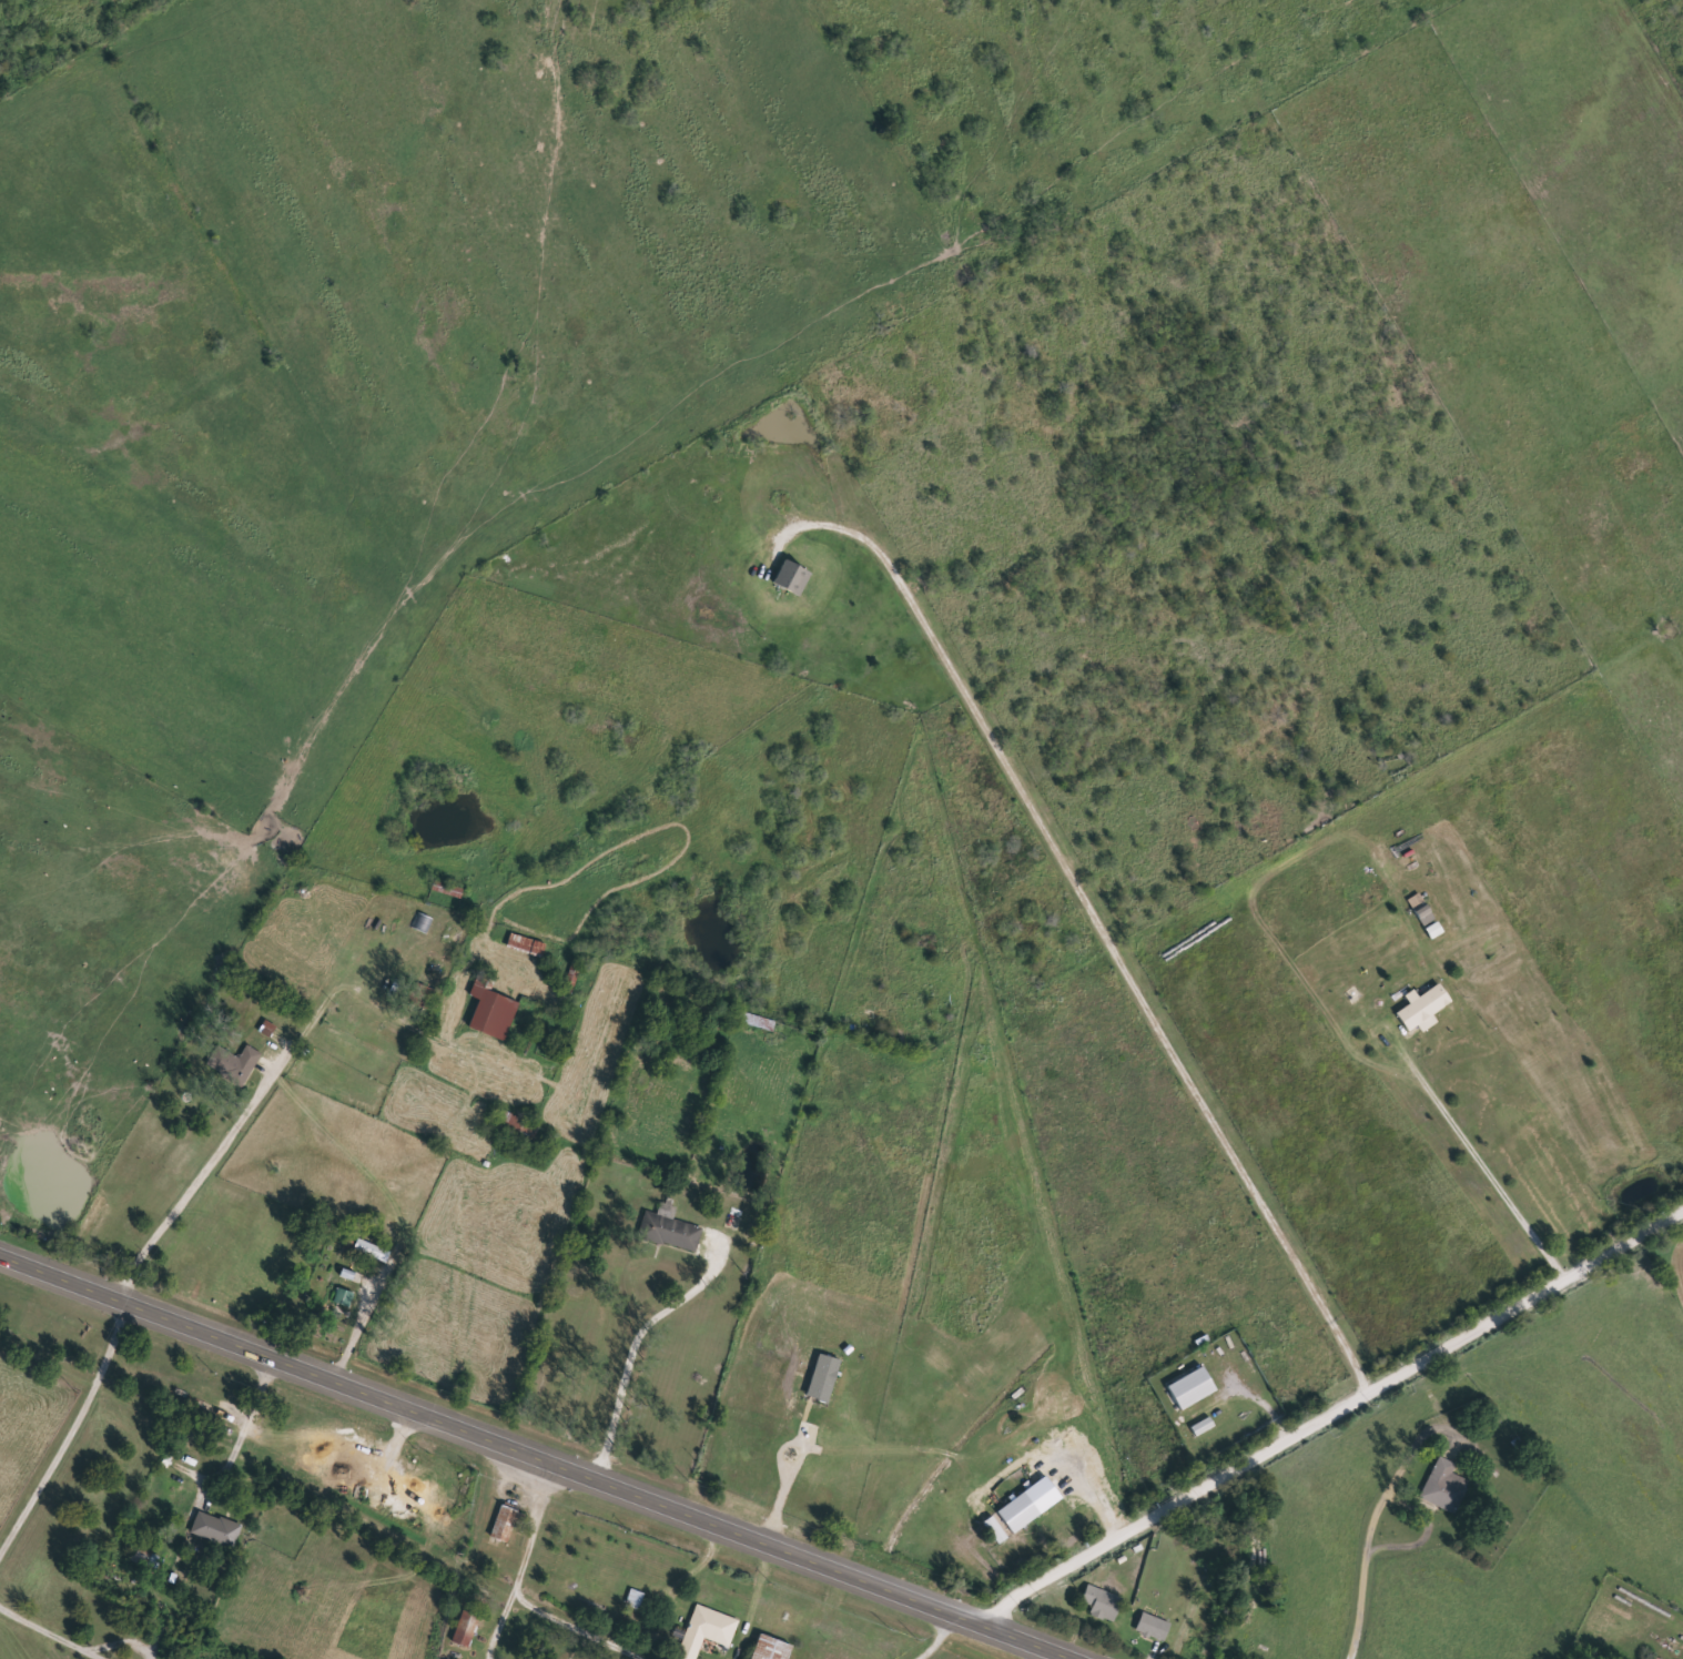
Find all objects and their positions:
building: (794, 577)
building: (1423, 914)
building: (425, 923)
building: (526, 945)
building: (420, 995)
building: (1421, 1008)
building: (490, 1010)
building: (752, 1020)
building: (270, 1029)
building: (235, 1065)
road: (227, 1123)
building: (516, 1124)
building: (666, 1228)
building: (369, 1247)
building: (345, 1297)
building: (825, 1378)
building: (1195, 1388)
road: (256, 1403)
road: (1334, 1409)
building: (1205, 1427)
road: (545, 1455)
building: (1442, 1486)
road: (325, 1497)
building: (1032, 1505)
building: (505, 1524)
road: (536, 1524)
building: (216, 1530)
building: (998, 1530)
building: (144, 1555)
building: (637, 1599)
building: (1101, 1604)
building: (467, 1626)
building: (1152, 1627)
building: (706, 1631)
road: (943, 1635)
building: (769, 1649)
building: (1659, 1658)

